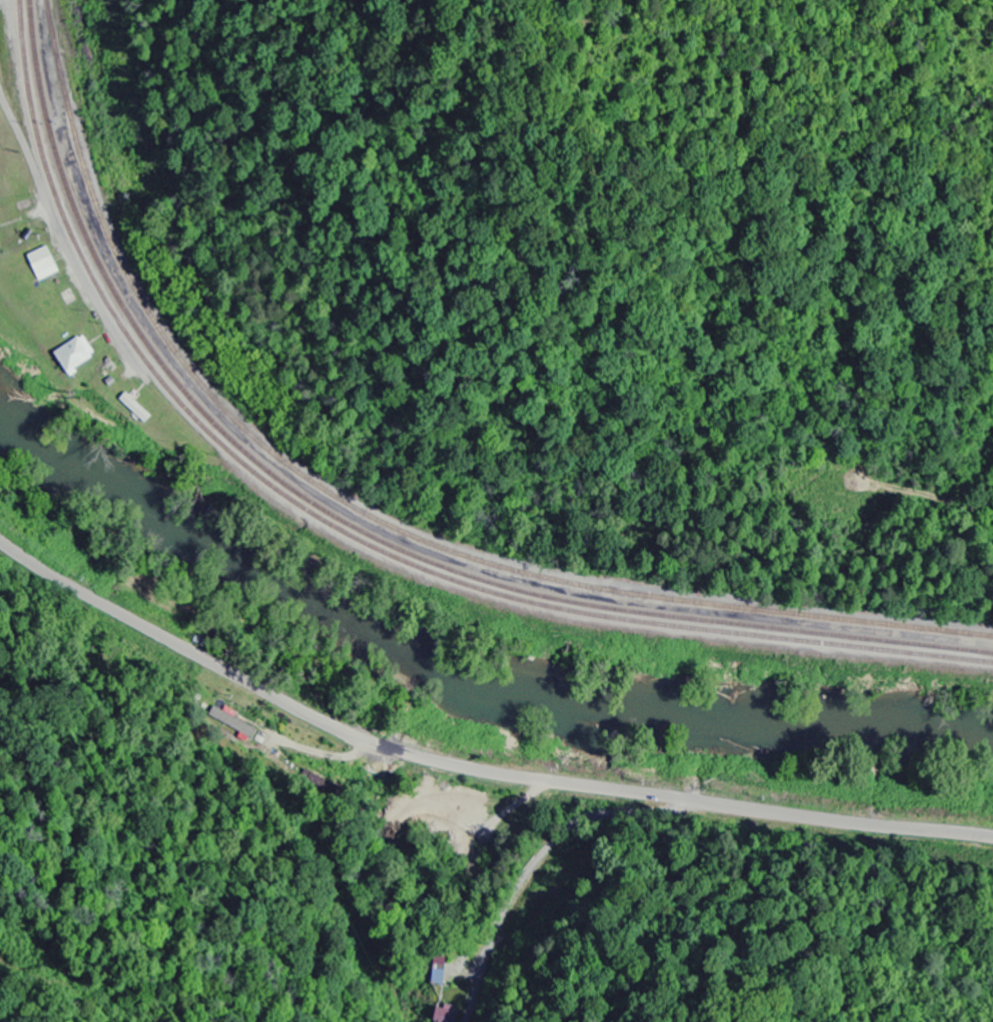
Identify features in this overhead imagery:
building: (41, 264)
road: (85, 283)
building: (72, 355)
railway: (359, 525)
railway: (351, 530)
river: (466, 669)
building: (230, 723)
road: (471, 768)
building: (461, 812)
road: (542, 858)
building: (438, 971)
building: (455, 999)

